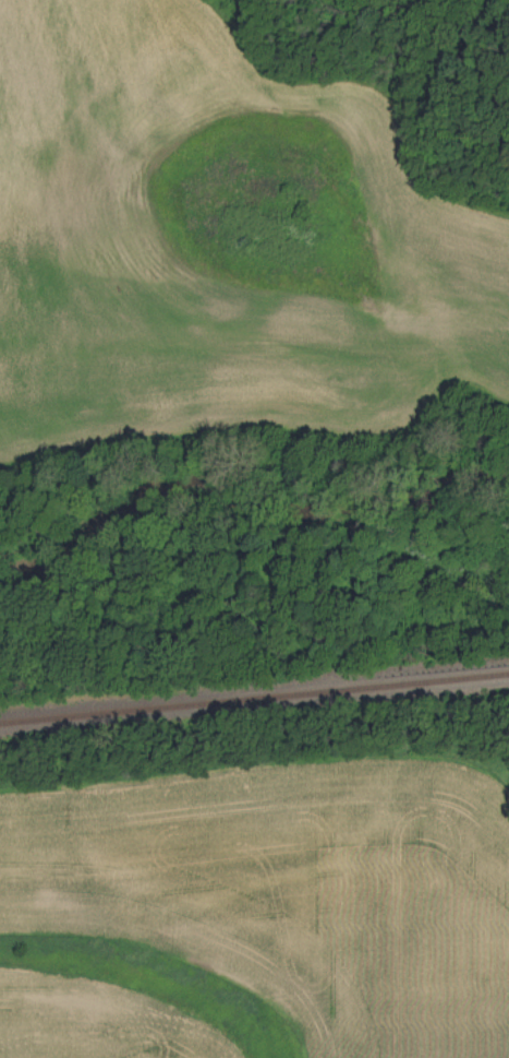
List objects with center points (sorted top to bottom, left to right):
railway: (254, 698)

